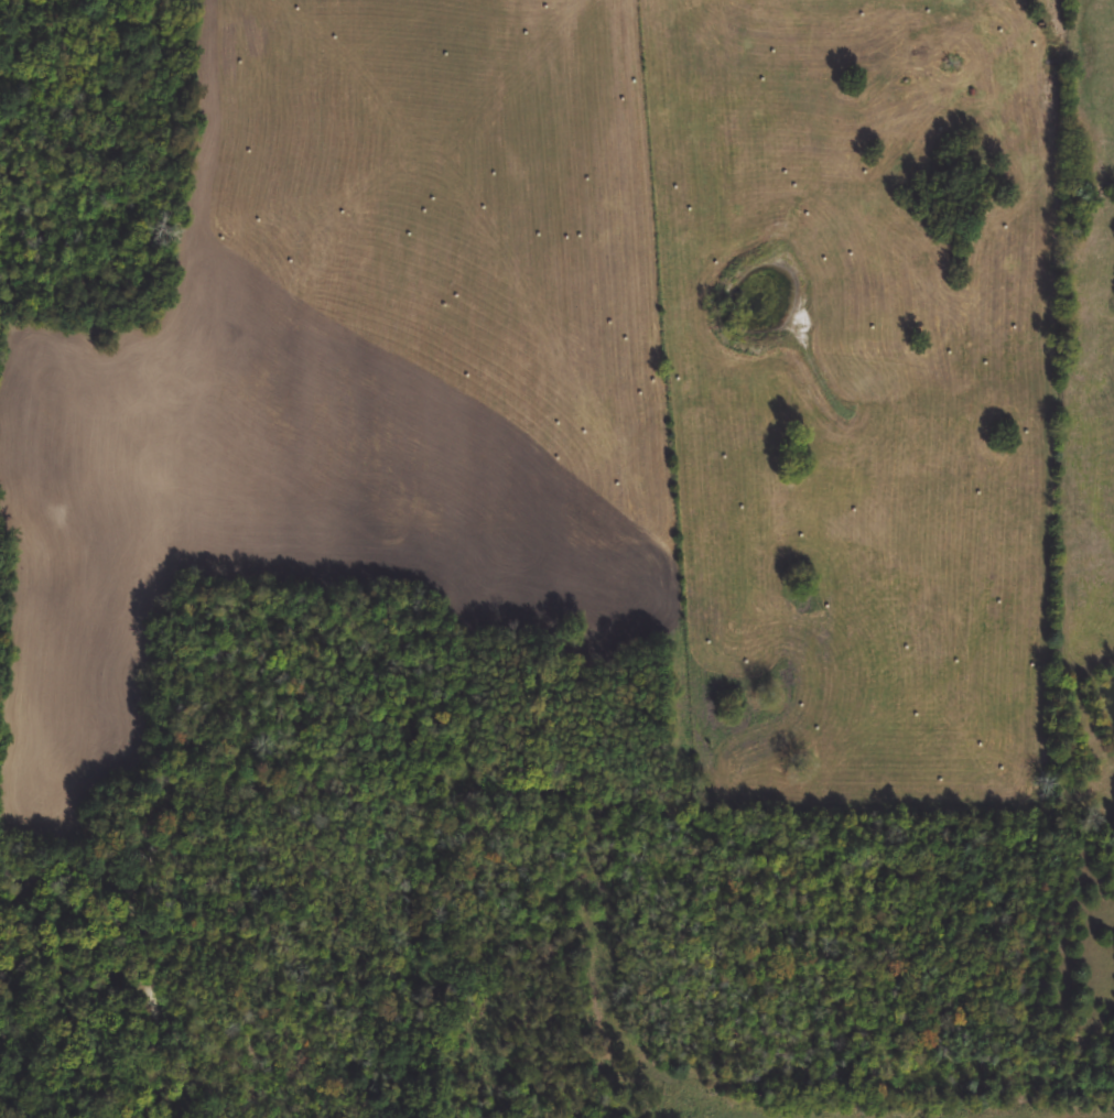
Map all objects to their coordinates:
road: (1075, 110)

